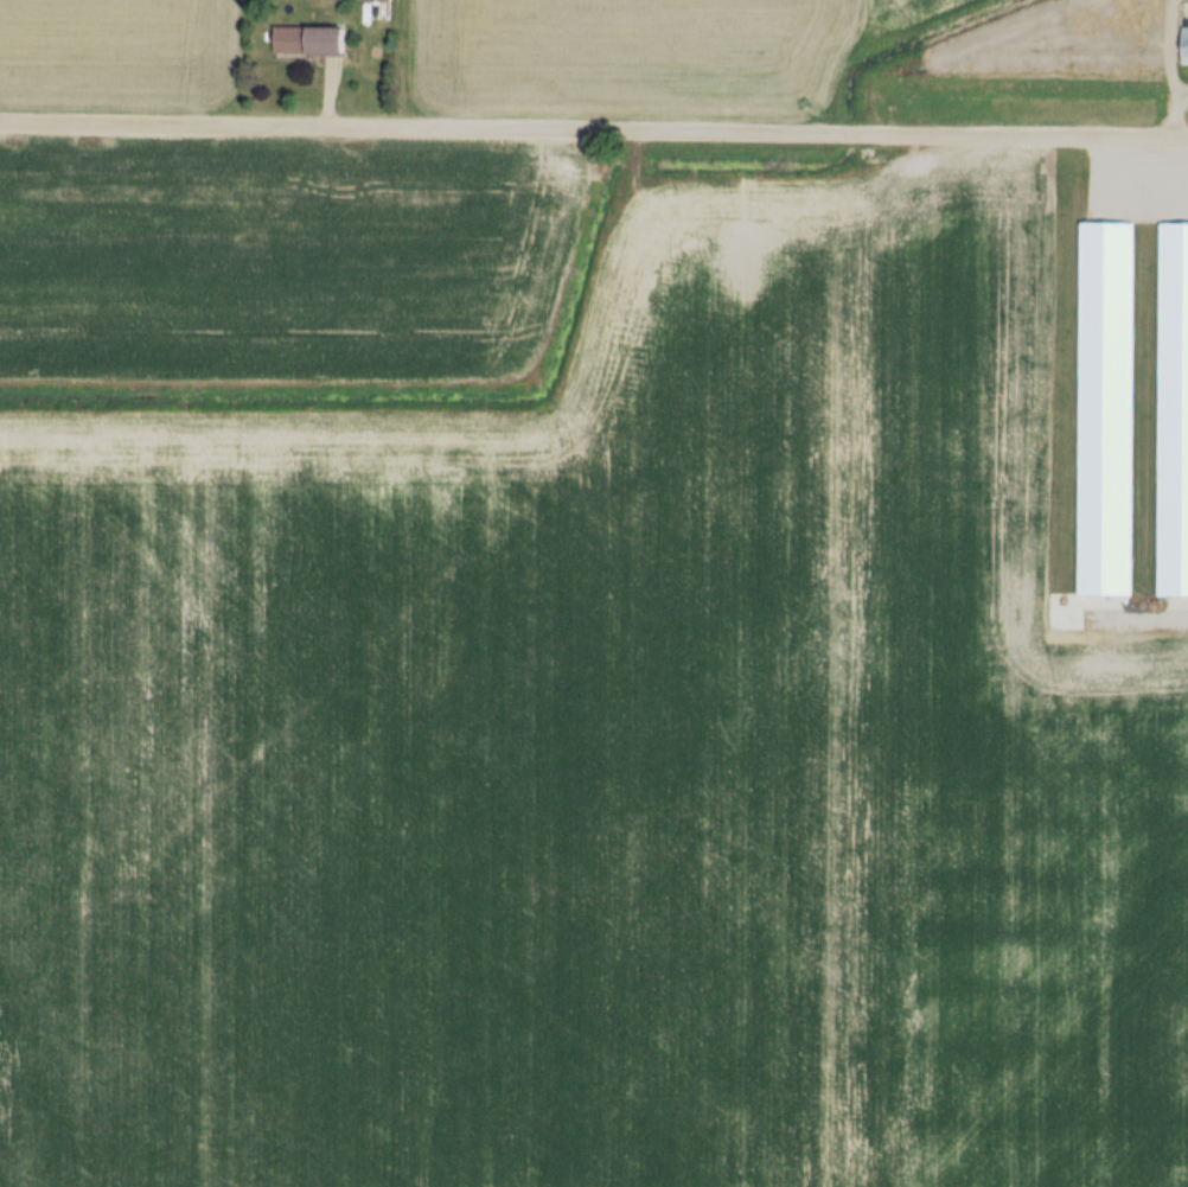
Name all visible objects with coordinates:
building: (378, 0)
building: (312, 42)
building: (1186, 45)
road: (1173, 114)
road: (593, 130)

